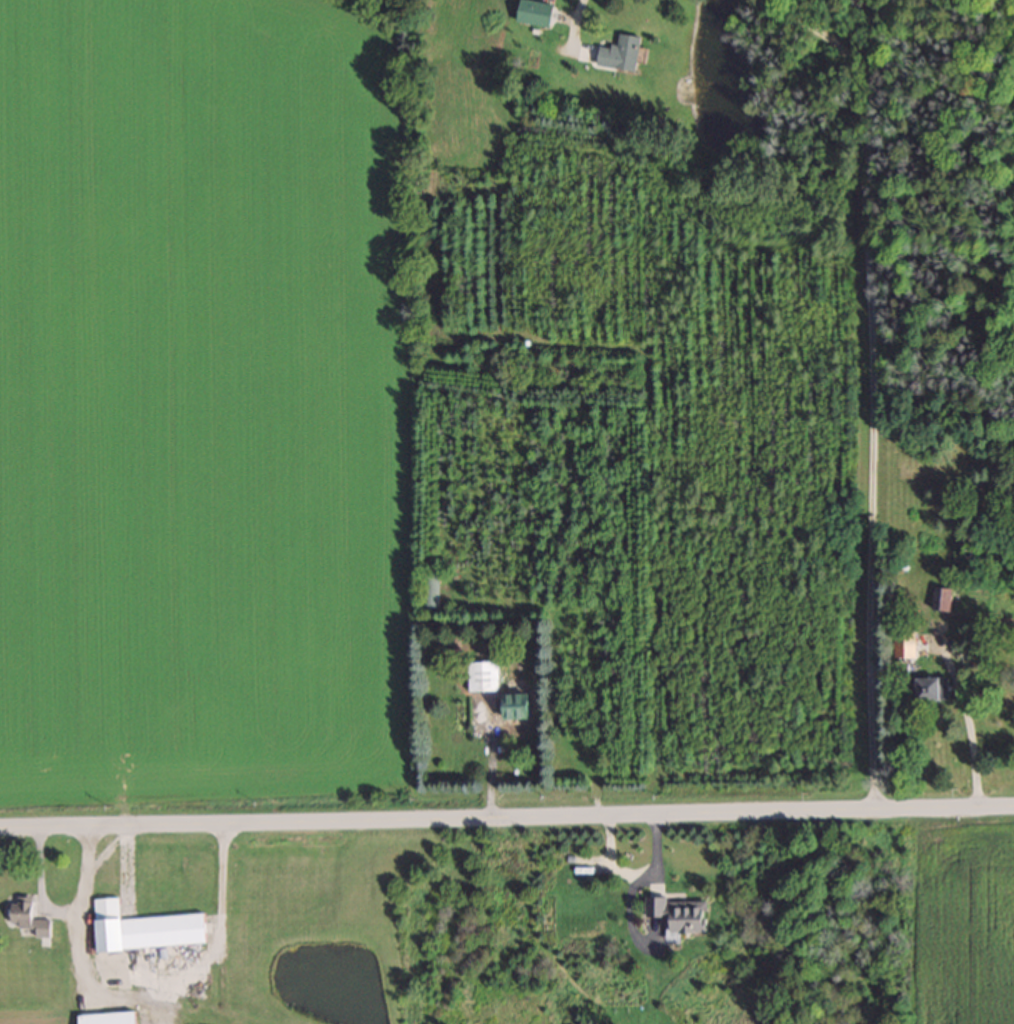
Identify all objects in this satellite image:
road: (572, 22)
building: (622, 53)
road: (866, 371)
building: (429, 590)
building: (940, 600)
building: (482, 676)
building: (932, 689)
building: (513, 705)
road: (966, 726)
road: (507, 806)
road: (64, 909)
building: (684, 915)
building: (28, 919)
building: (145, 929)
building: (109, 1019)

